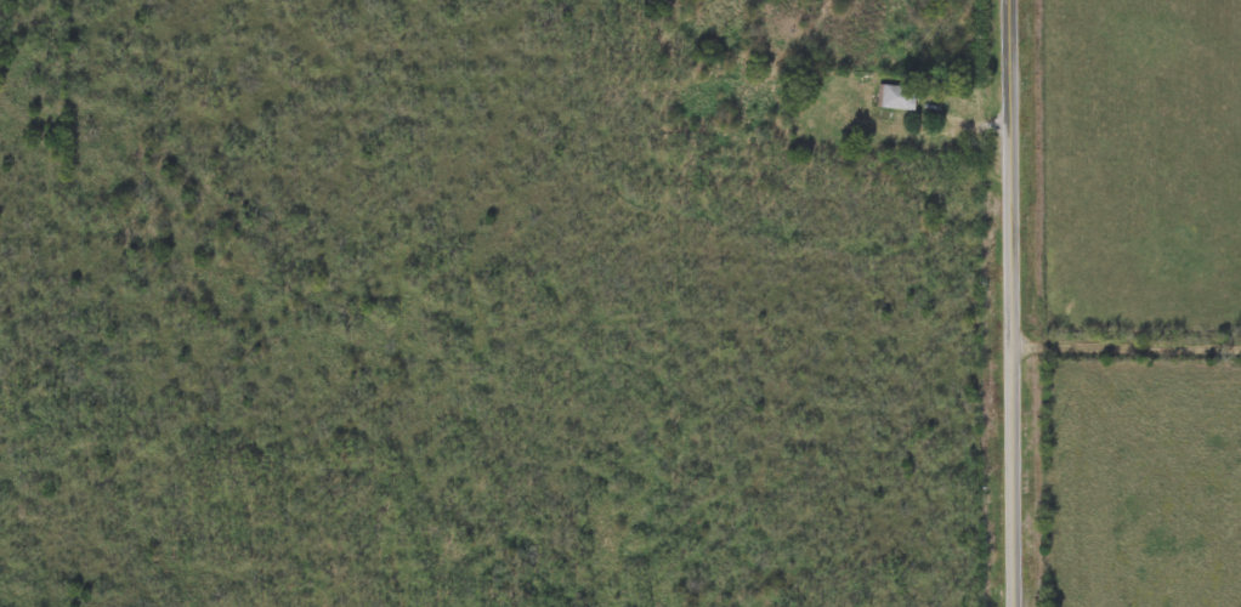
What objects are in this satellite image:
building: (896, 96)
road: (956, 126)
road: (1011, 302)
road: (1126, 345)

